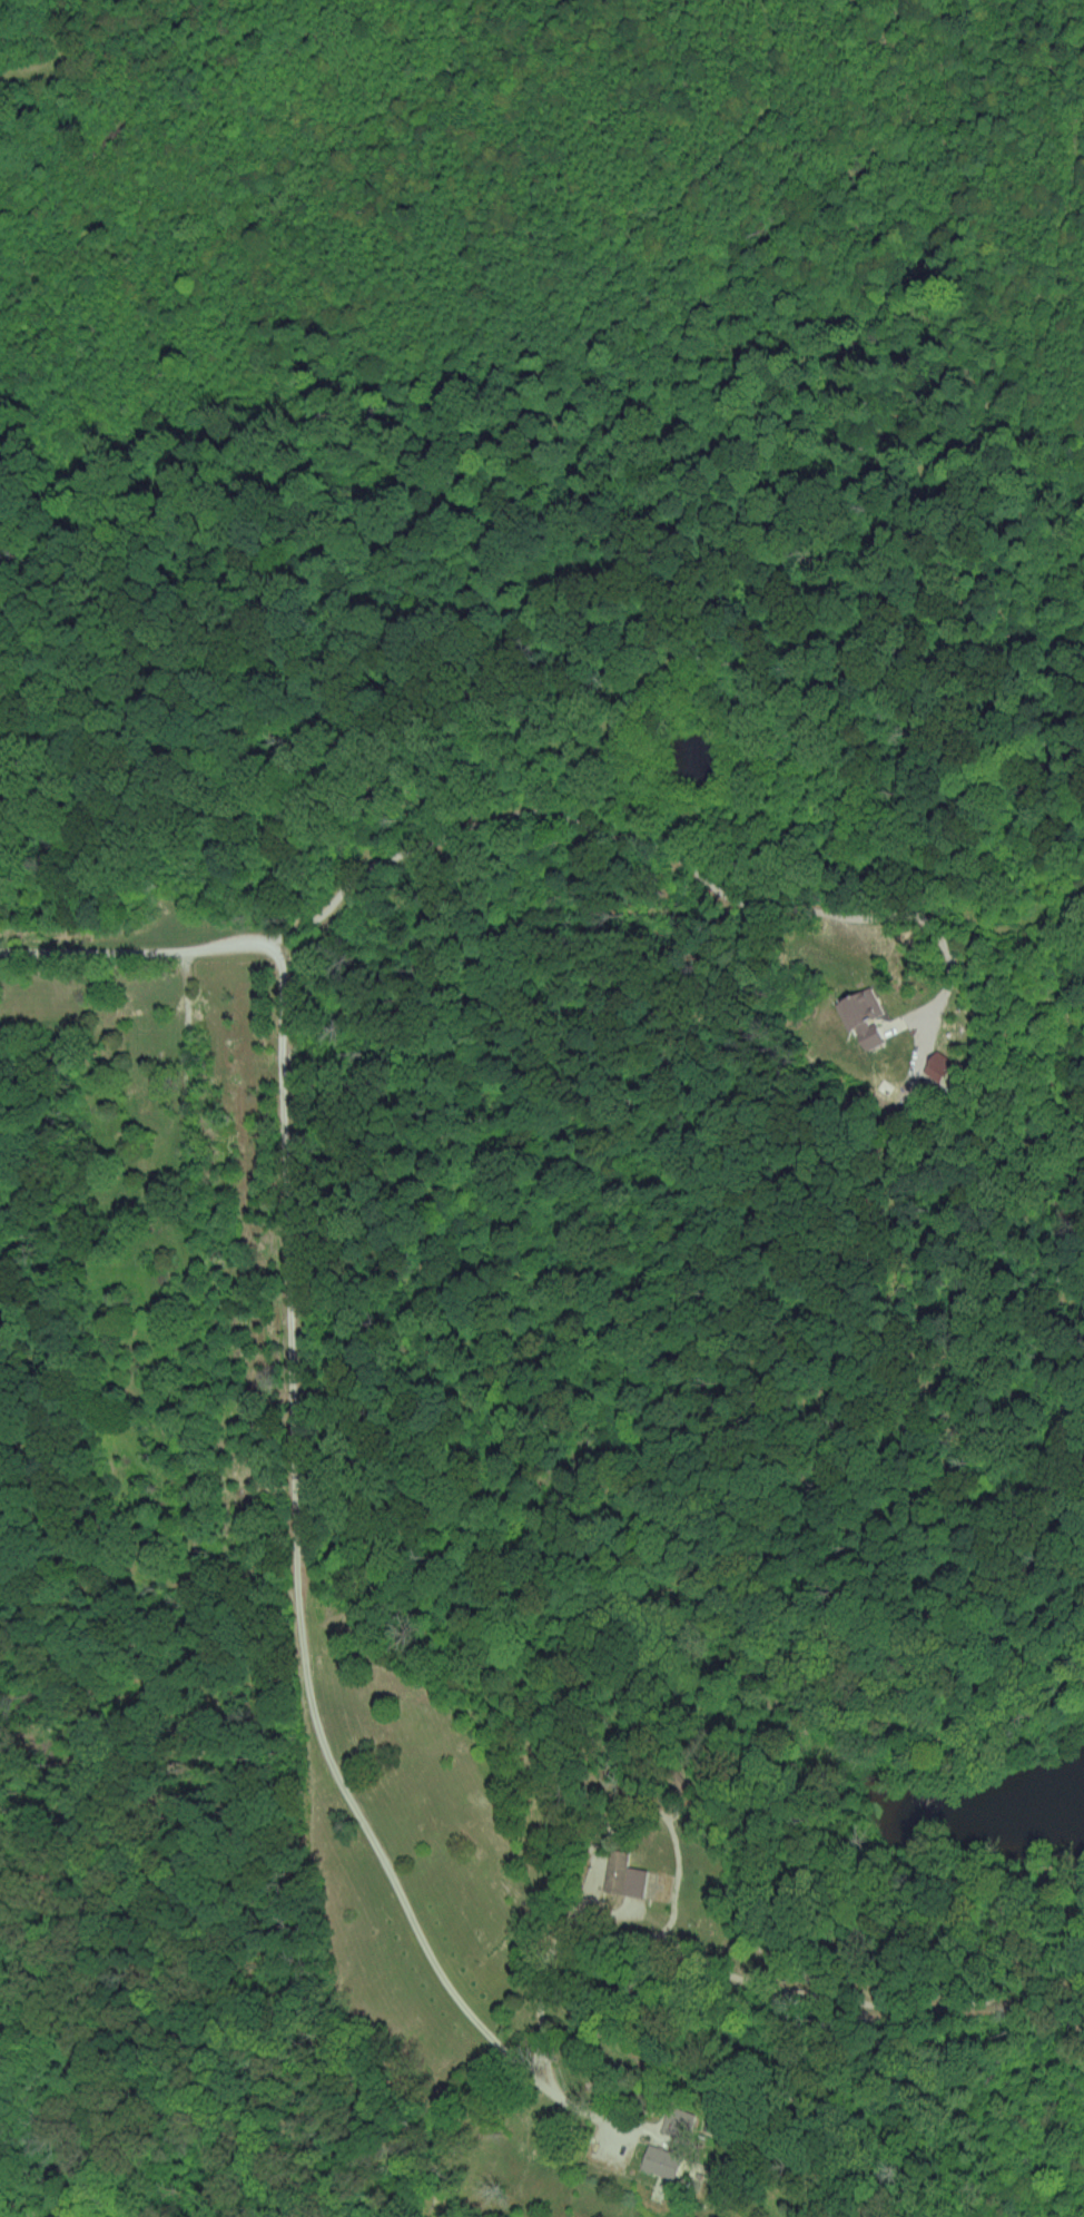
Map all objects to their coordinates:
road: (641, 841)
building: (860, 1015)
building: (937, 1065)
road: (299, 1438)
building: (624, 1875)
road: (539, 1963)
building: (660, 2161)

